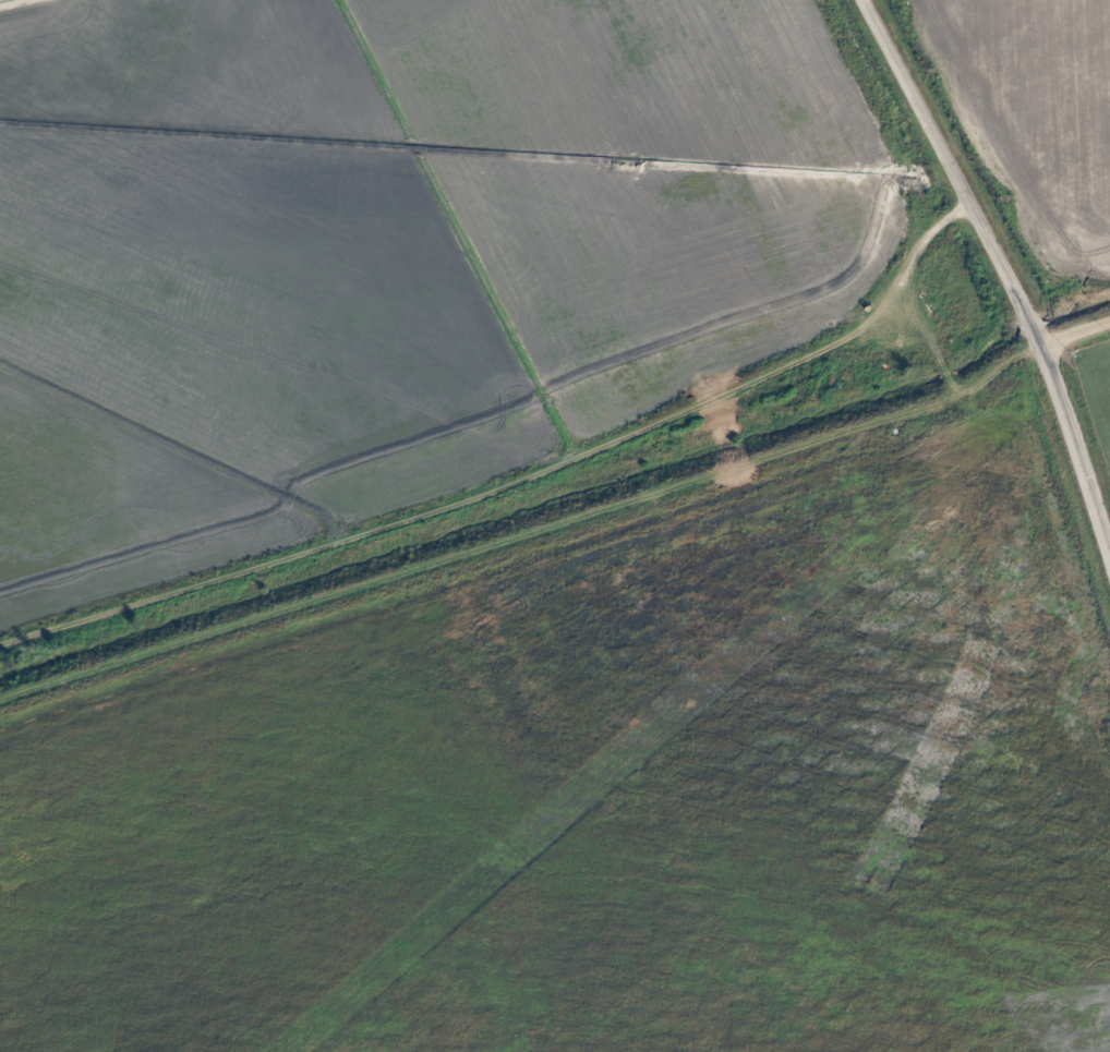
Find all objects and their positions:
road: (1003, 275)
road: (1074, 329)
road: (620, 432)

